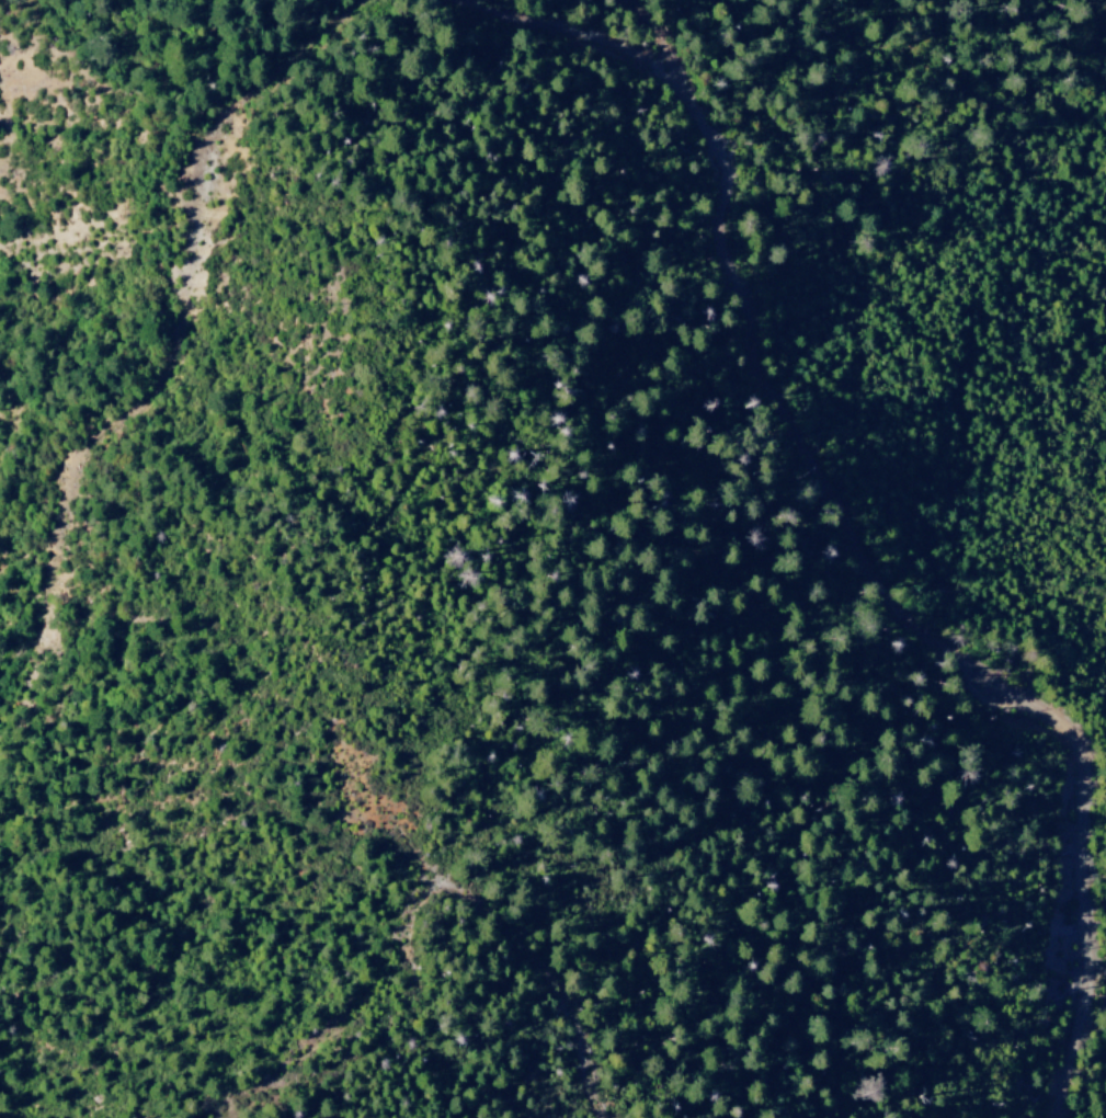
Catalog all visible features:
road: (646, 42)
road: (169, 366)
road: (840, 517)

